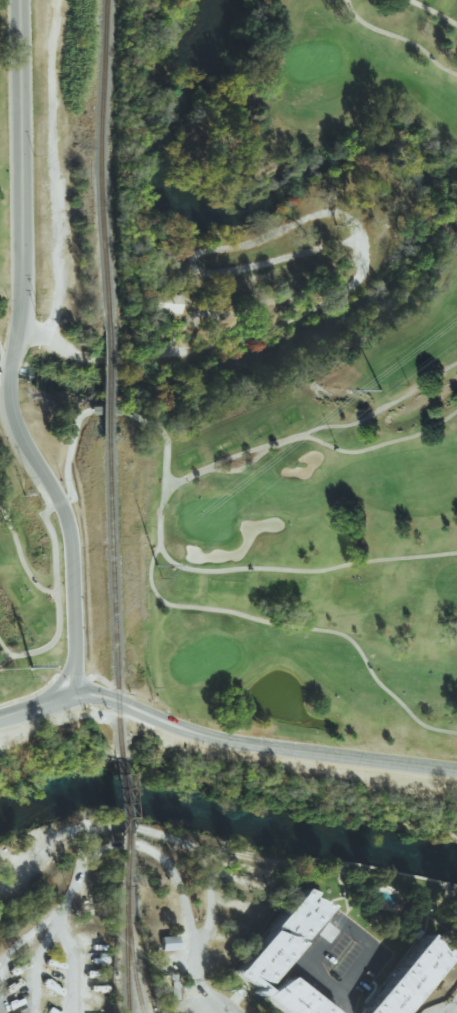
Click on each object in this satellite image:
park: (361, 63)
railway: (99, 164)
road: (14, 178)
park: (2, 194)
river: (425, 208)
building: (163, 302)
road: (3, 364)
road: (1, 378)
railway: (100, 387)
power tower: (381, 390)
park: (316, 550)
road: (66, 584)
park: (27, 590)
railway: (112, 600)
power tower: (30, 668)
road: (85, 678)
road: (120, 714)
road: (261, 744)
road: (302, 760)
park: (271, 777)
river: (227, 817)
railway: (120, 818)
road: (453, 833)
road: (155, 855)
road: (337, 925)
road: (25, 936)
building: (279, 938)
building: (168, 943)
railway: (125, 945)
railway: (129, 950)
road: (69, 959)
parking lot: (335, 960)
road: (191, 963)
building: (404, 982)
building: (289, 997)
road: (341, 1003)
road: (448, 1006)
road: (214, 1009)
road: (212, 1011)

